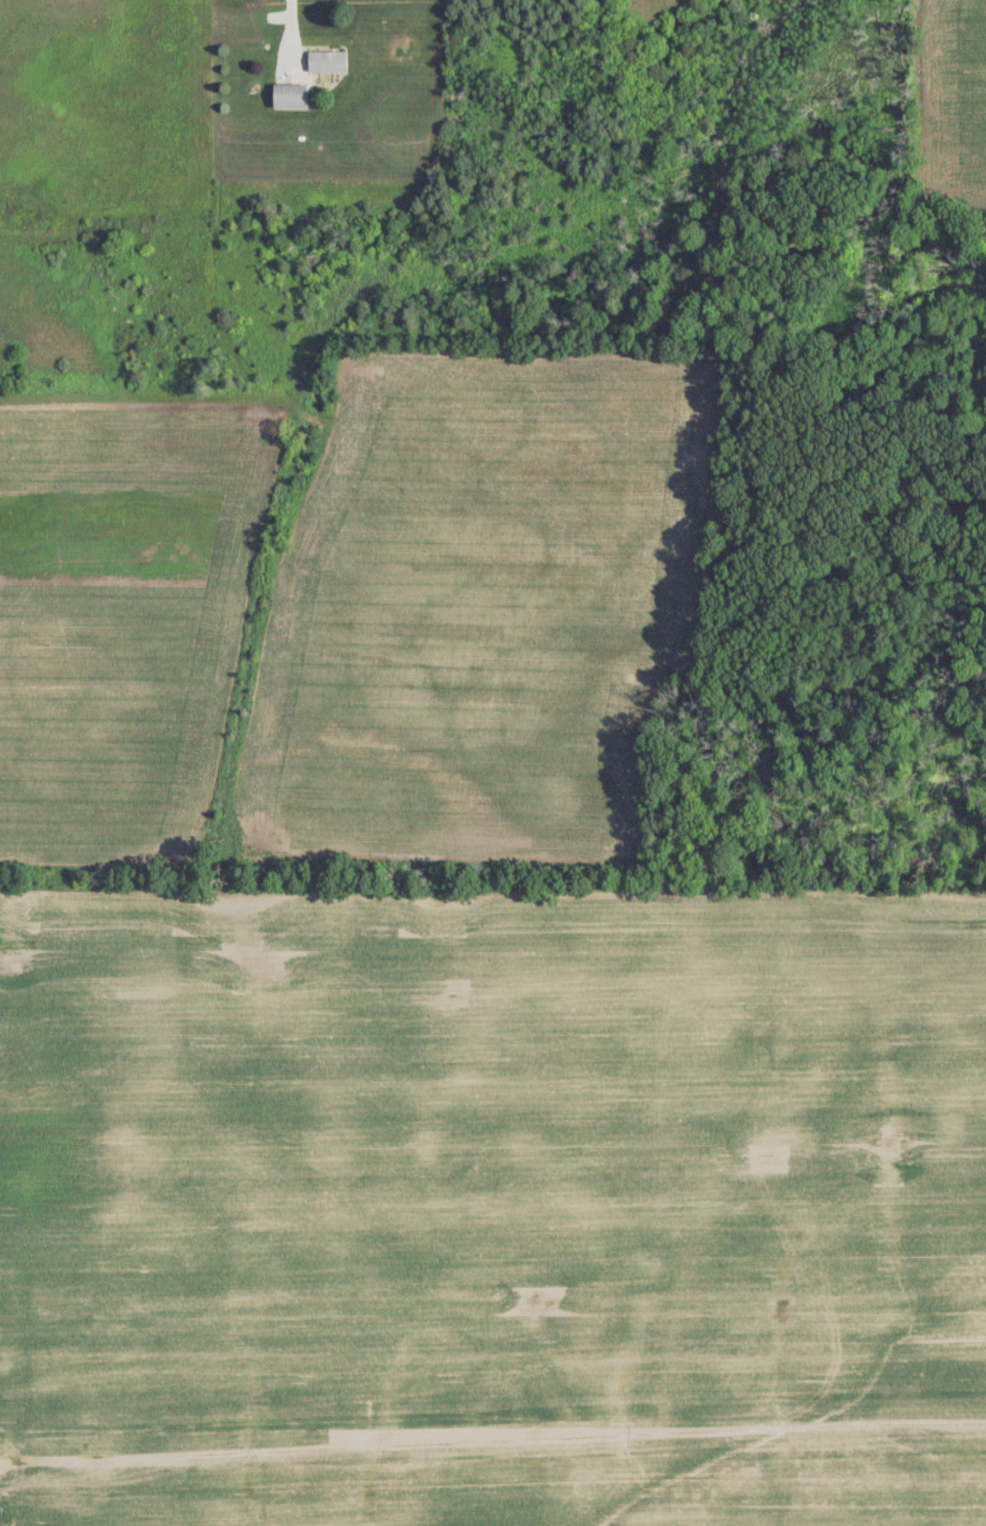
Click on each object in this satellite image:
road: (291, 33)
building: (327, 61)
building: (290, 96)

